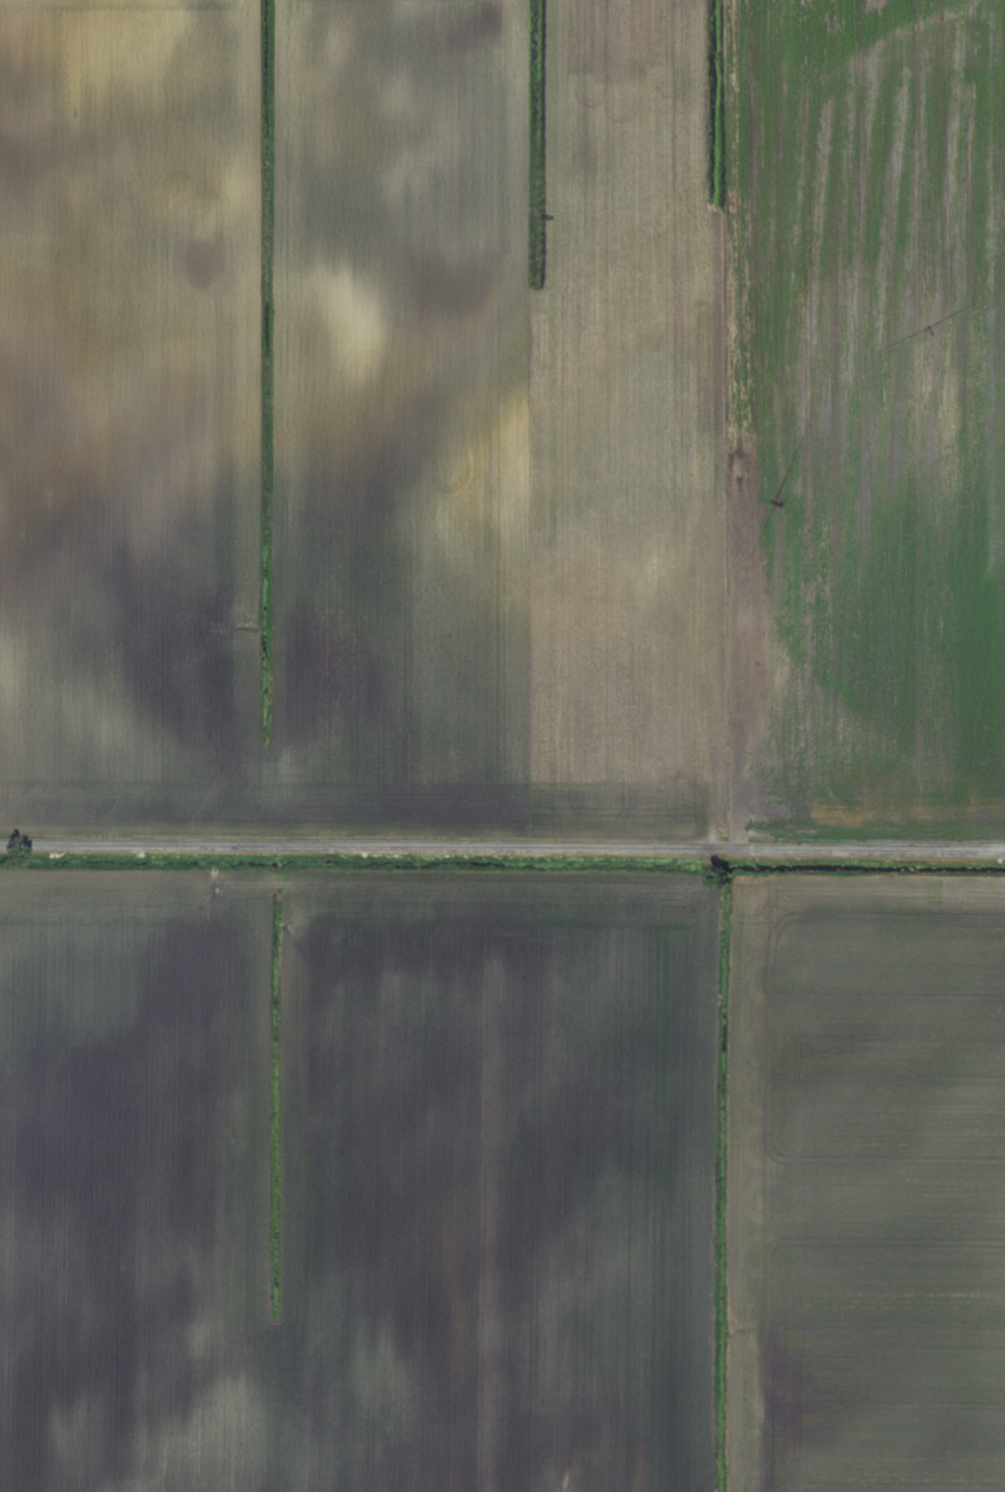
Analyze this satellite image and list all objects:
road: (711, 813)
road: (502, 845)

